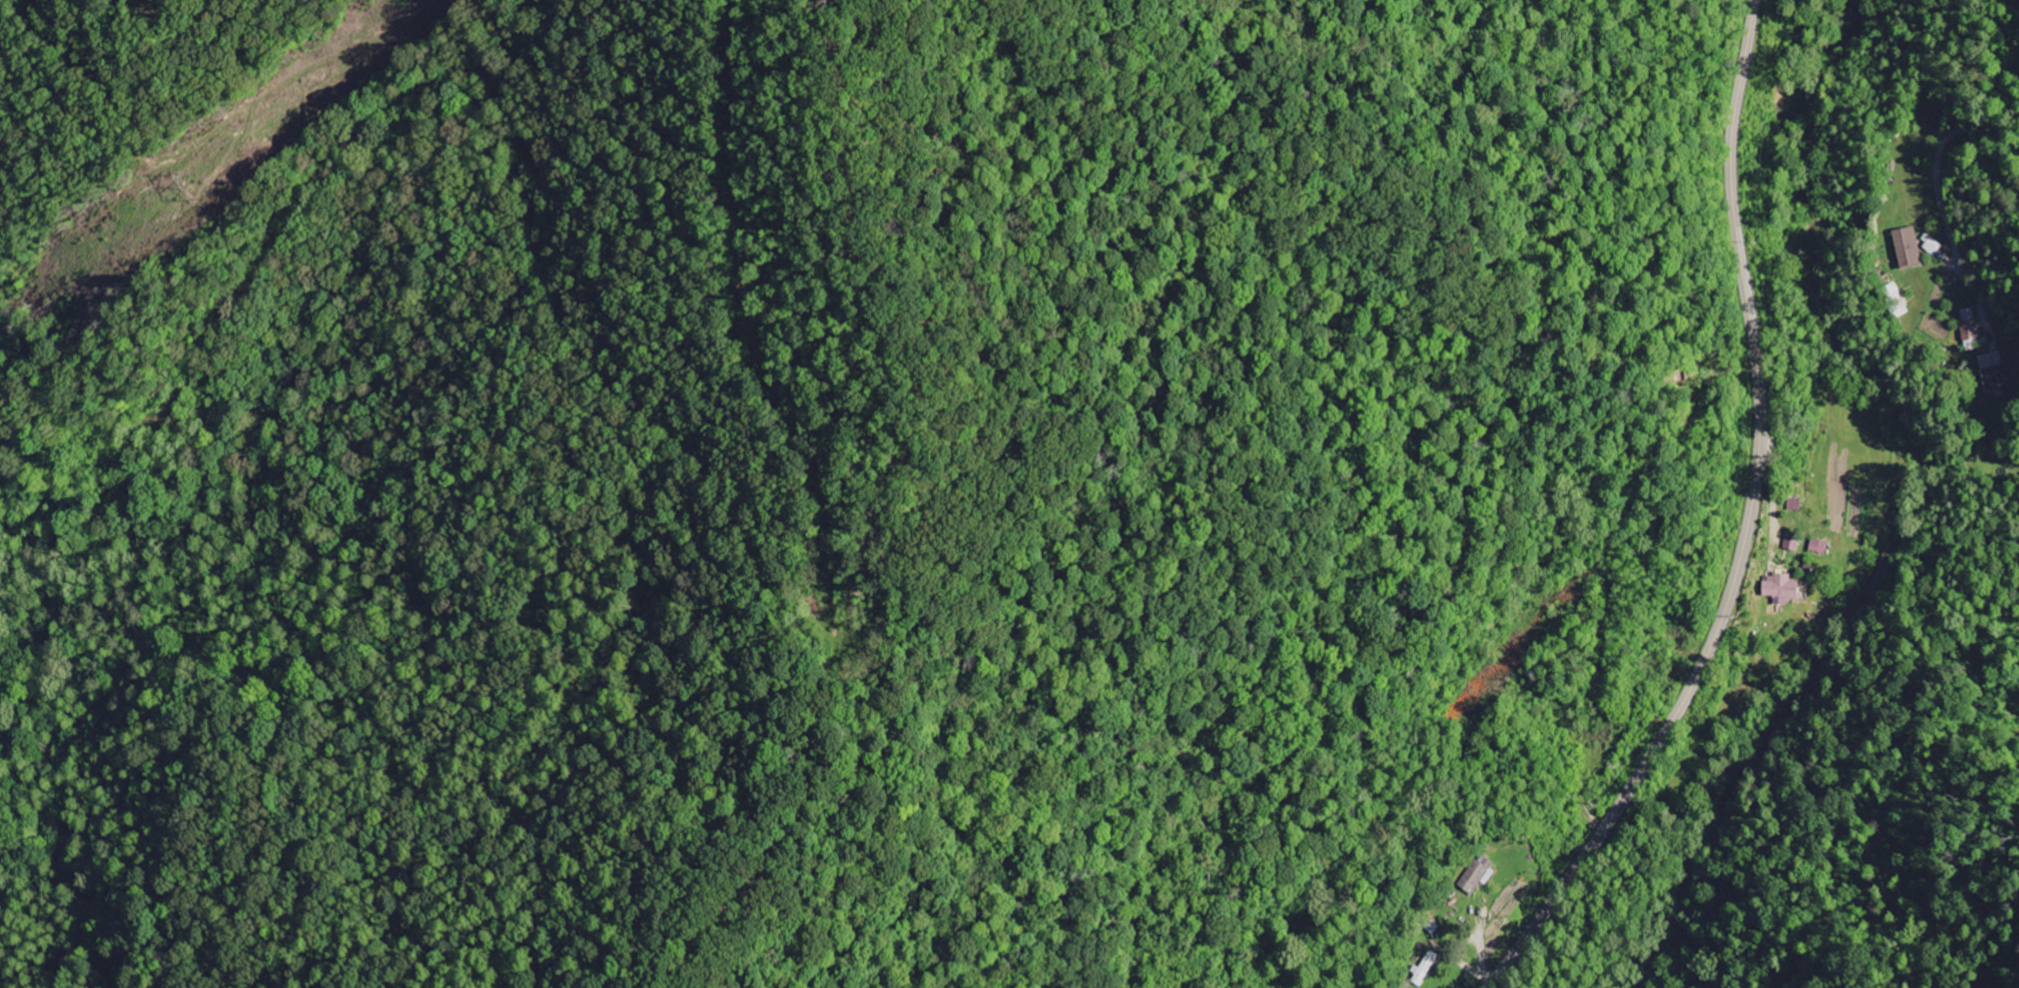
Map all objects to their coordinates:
road: (1941, 153)
building: (1910, 249)
building: (1897, 302)
building: (1971, 330)
building: (1995, 373)
building: (1794, 505)
road: (1793, 525)
building: (1792, 542)
building: (1818, 547)
building: (1781, 589)

